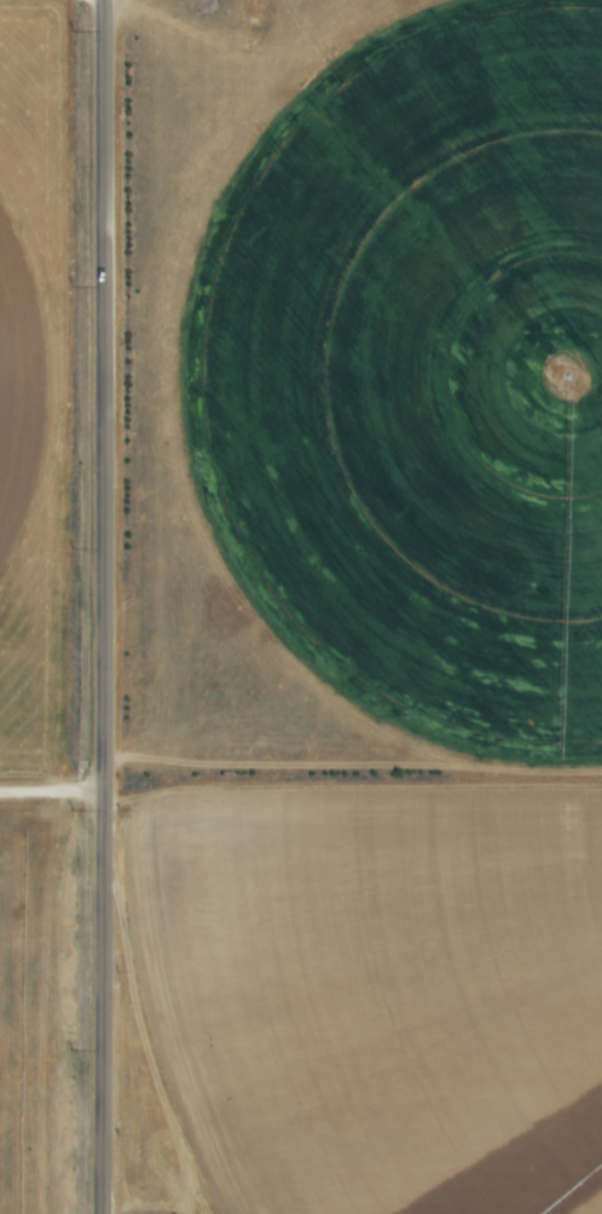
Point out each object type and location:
power tower: (73, 30)
power tower: (73, 286)
power tower: (71, 547)
road: (105, 606)
road: (353, 764)
road: (53, 796)
power tower: (71, 812)
power tower: (71, 1048)

